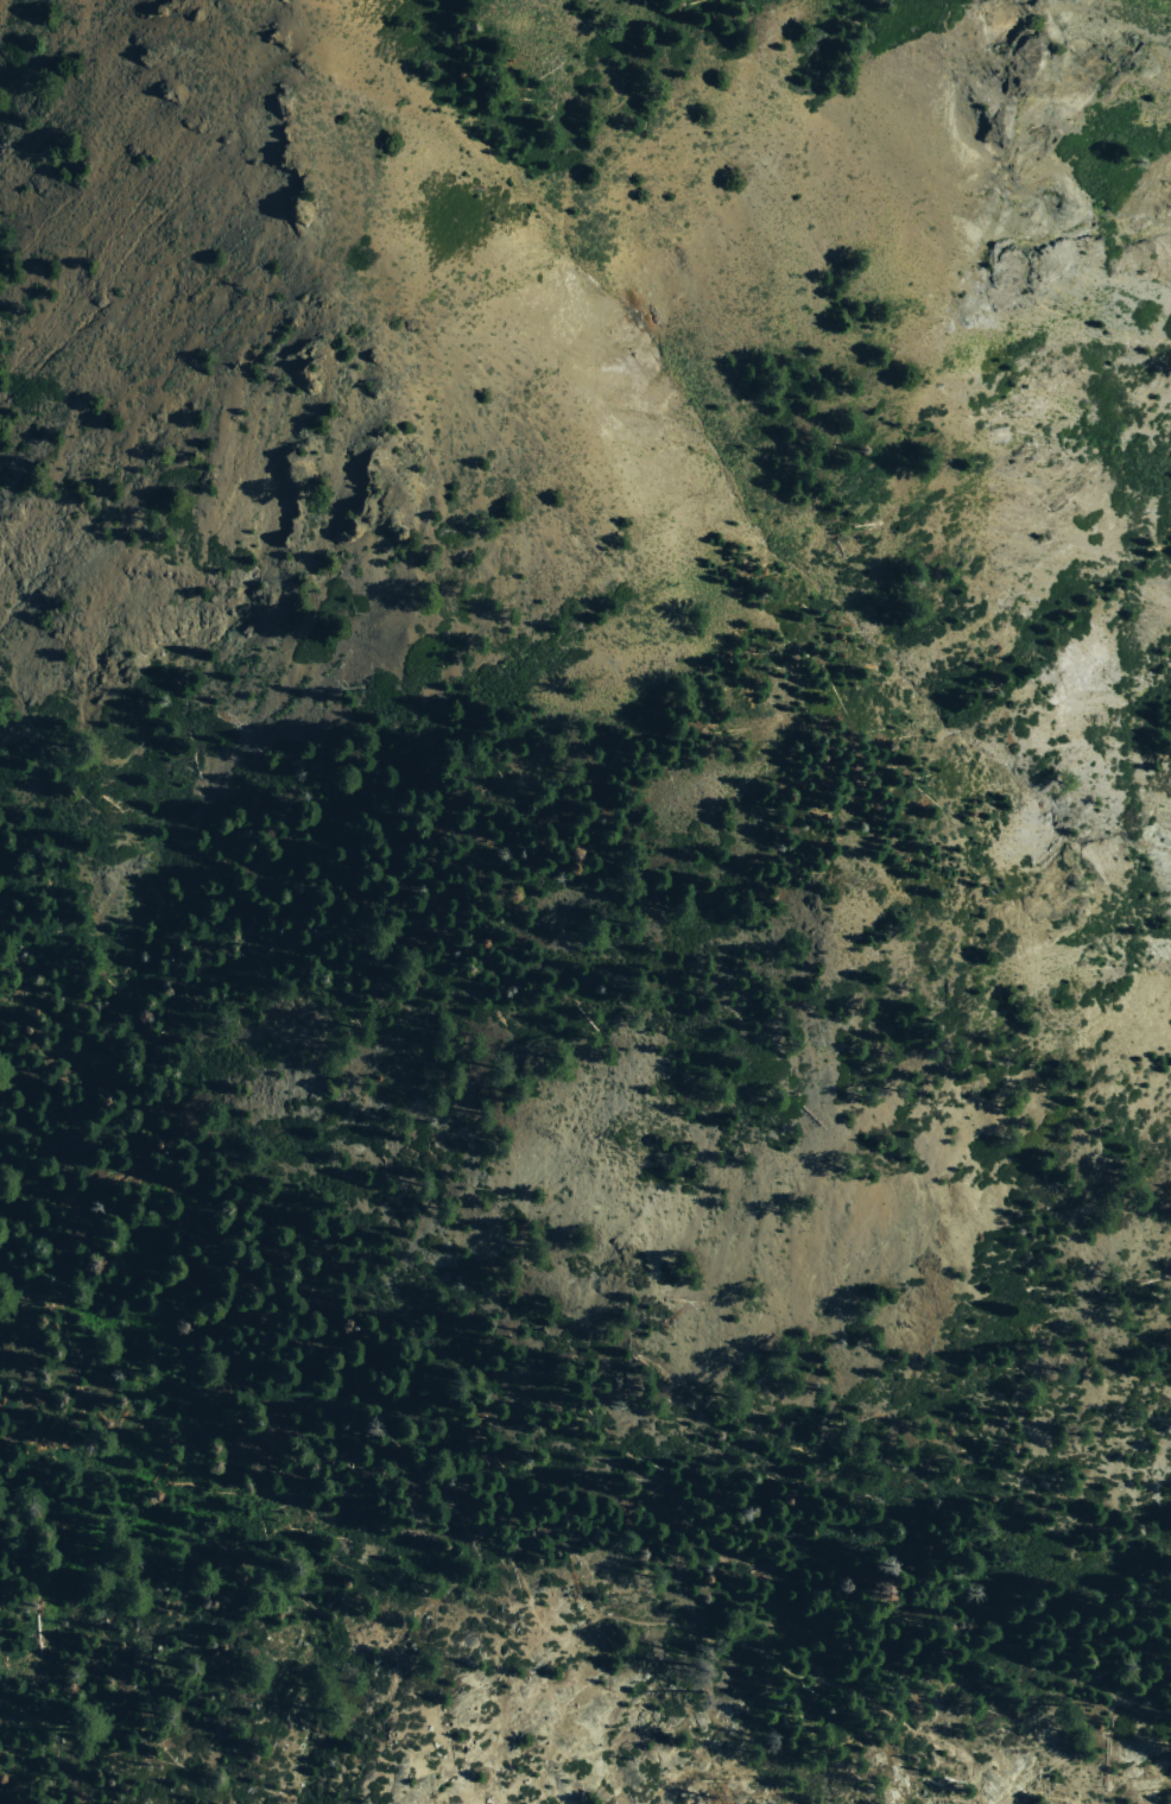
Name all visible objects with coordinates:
road: (518, 1570)

